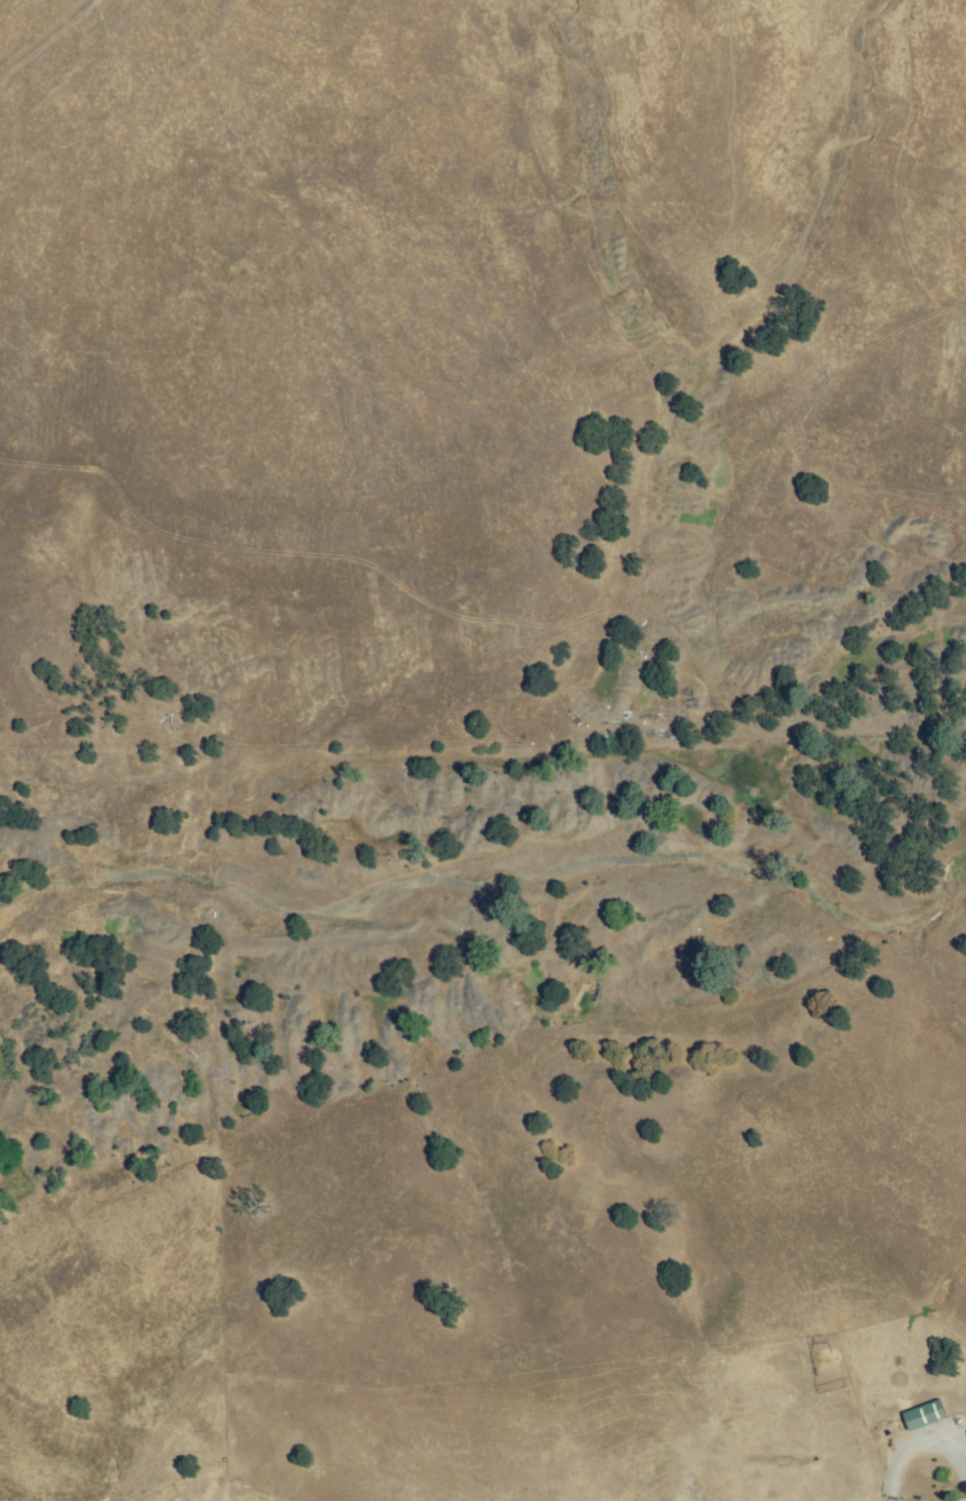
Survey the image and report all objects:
building: (921, 1415)
road: (912, 1445)

